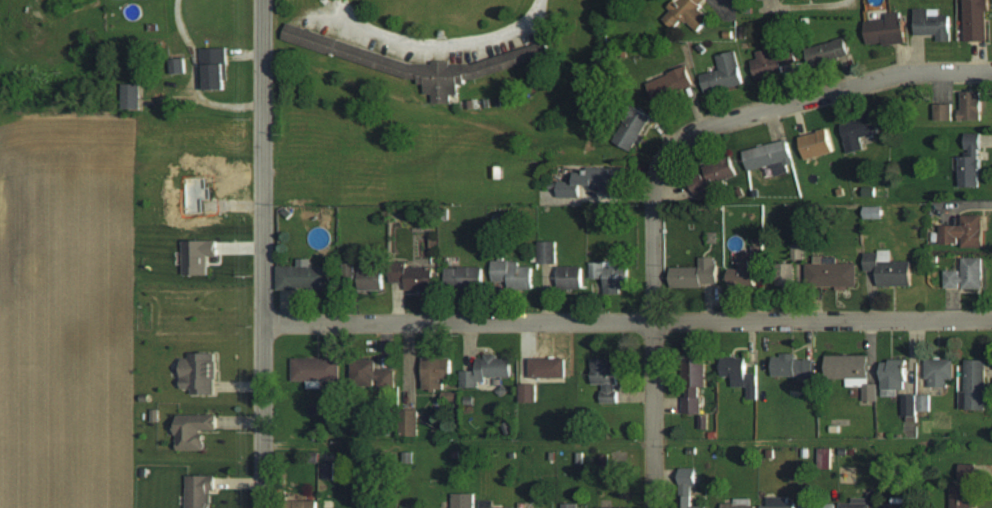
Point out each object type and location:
road: (807, 6)
building: (687, 14)
road: (730, 14)
building: (976, 20)
building: (933, 24)
building: (886, 30)
road: (439, 48)
building: (827, 52)
building: (414, 63)
building: (770, 65)
building: (176, 66)
building: (215, 69)
building: (723, 73)
building: (671, 87)
building: (131, 96)
road: (796, 101)
building: (970, 106)
building: (633, 130)
building: (859, 133)
building: (816, 144)
building: (770, 157)
building: (970, 163)
building: (591, 182)
building: (963, 232)
building: (547, 251)
building: (798, 251)
road: (261, 254)
building: (198, 255)
building: (888, 268)
building: (810, 271)
building: (695, 273)
building: (512, 274)
building: (611, 274)
building: (743, 274)
building: (965, 274)
building: (304, 276)
building: (414, 276)
building: (462, 276)
building: (570, 277)
building: (370, 278)
road: (626, 321)
road: (651, 357)
building: (791, 366)
building: (547, 367)
building: (316, 368)
building: (487, 370)
building: (436, 371)
building: (938, 371)
building: (199, 372)
building: (697, 372)
building: (852, 372)
building: (740, 374)
building: (893, 376)
building: (606, 379)
building: (974, 385)
building: (527, 392)
building: (922, 403)
building: (691, 404)
building: (908, 404)
building: (195, 430)
building: (327, 470)
building: (686, 486)
building: (963, 486)
building: (199, 491)
building: (462, 500)
building: (860, 502)
building: (778, 503)
building: (814, 503)
building: (301, 504)
building: (489, 504)
building: (568, 505)
building: (735, 505)
building: (895, 505)
building: (612, 507)

